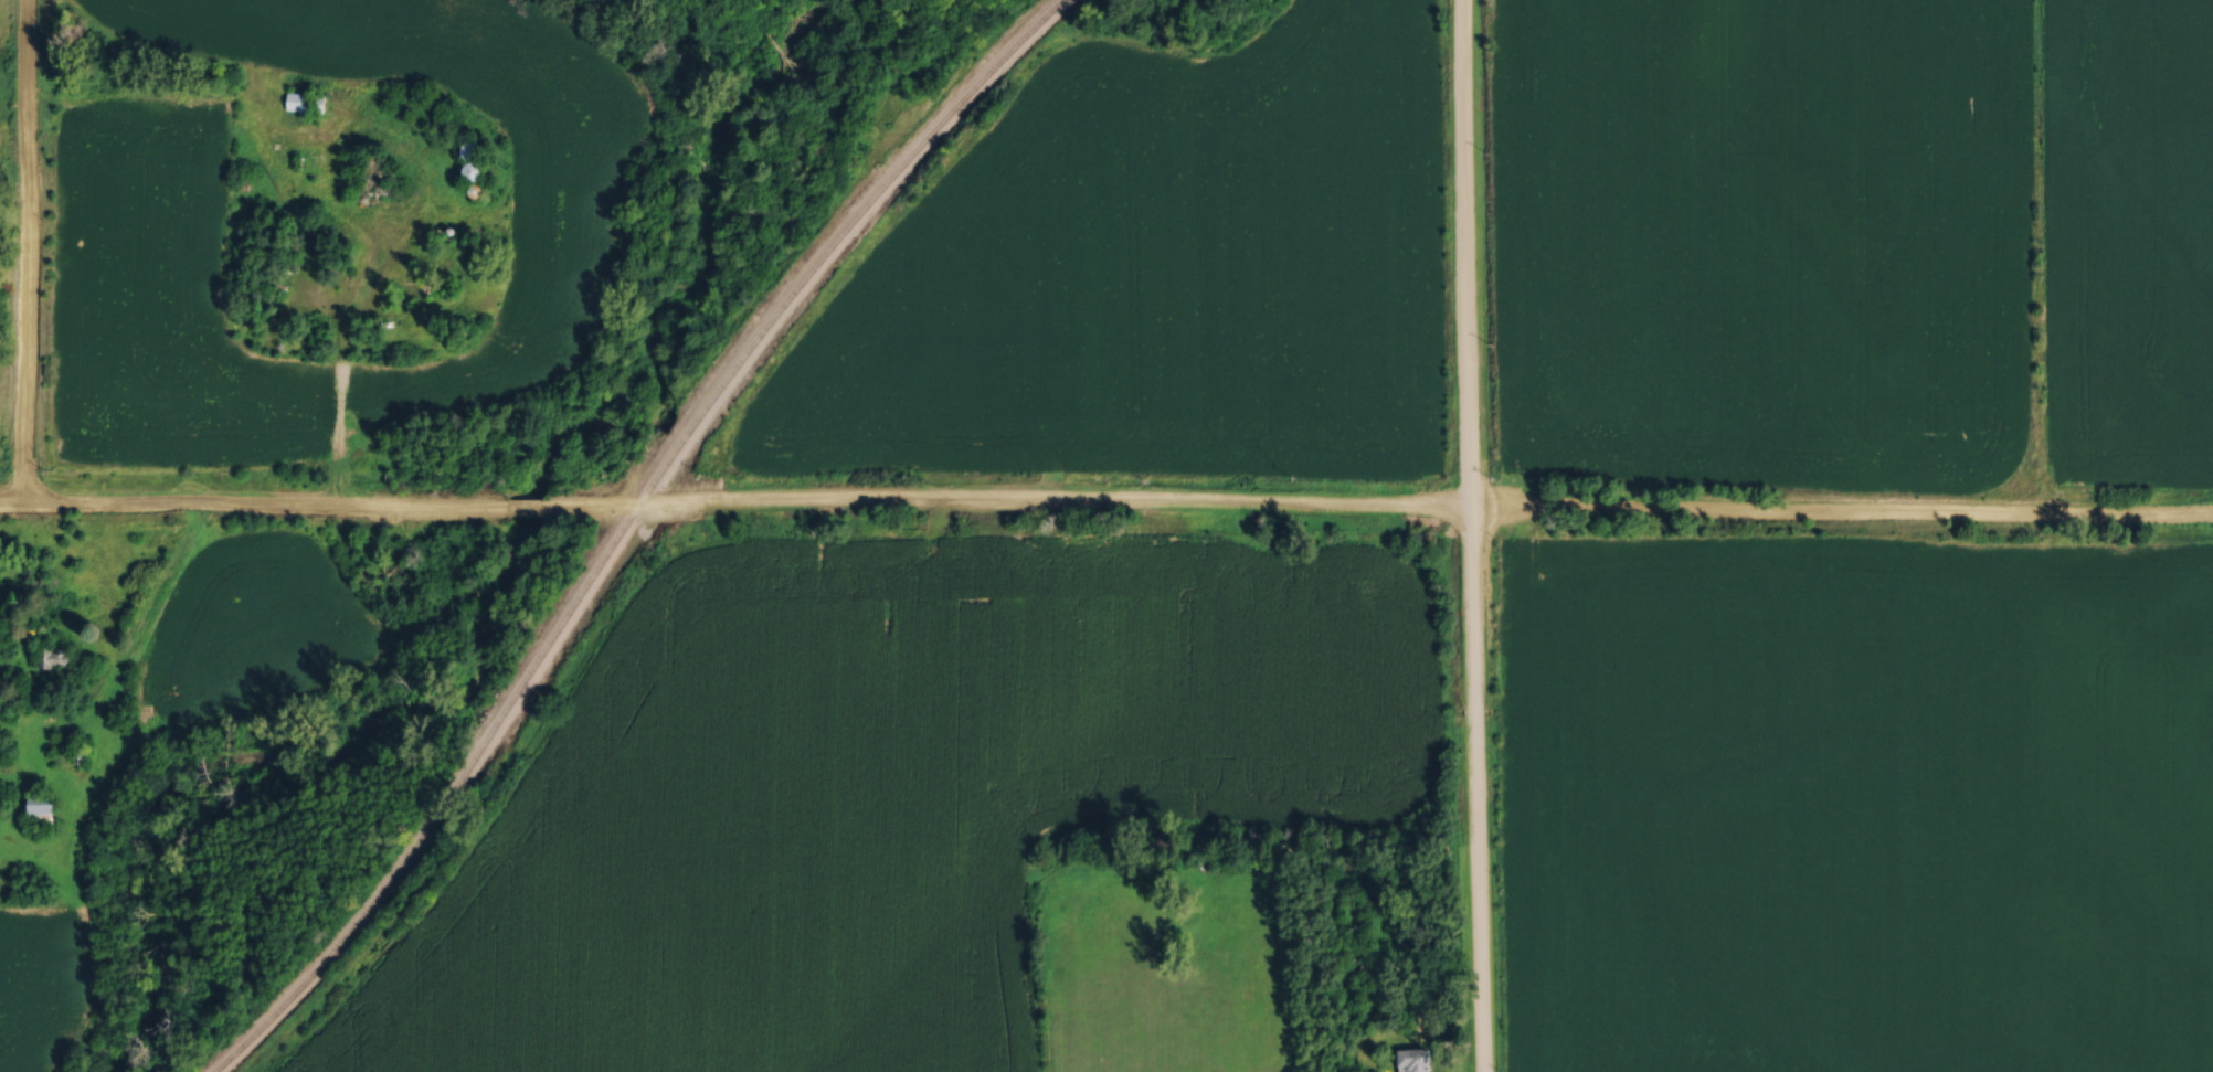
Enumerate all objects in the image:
building: (311, 102)
building: (477, 171)
road: (28, 253)
road: (338, 425)
road: (1105, 503)
railway: (621, 527)
road: (1471, 535)
road: (165, 588)
building: (60, 657)
building: (4, 798)
building: (45, 808)
building: (1420, 1059)

